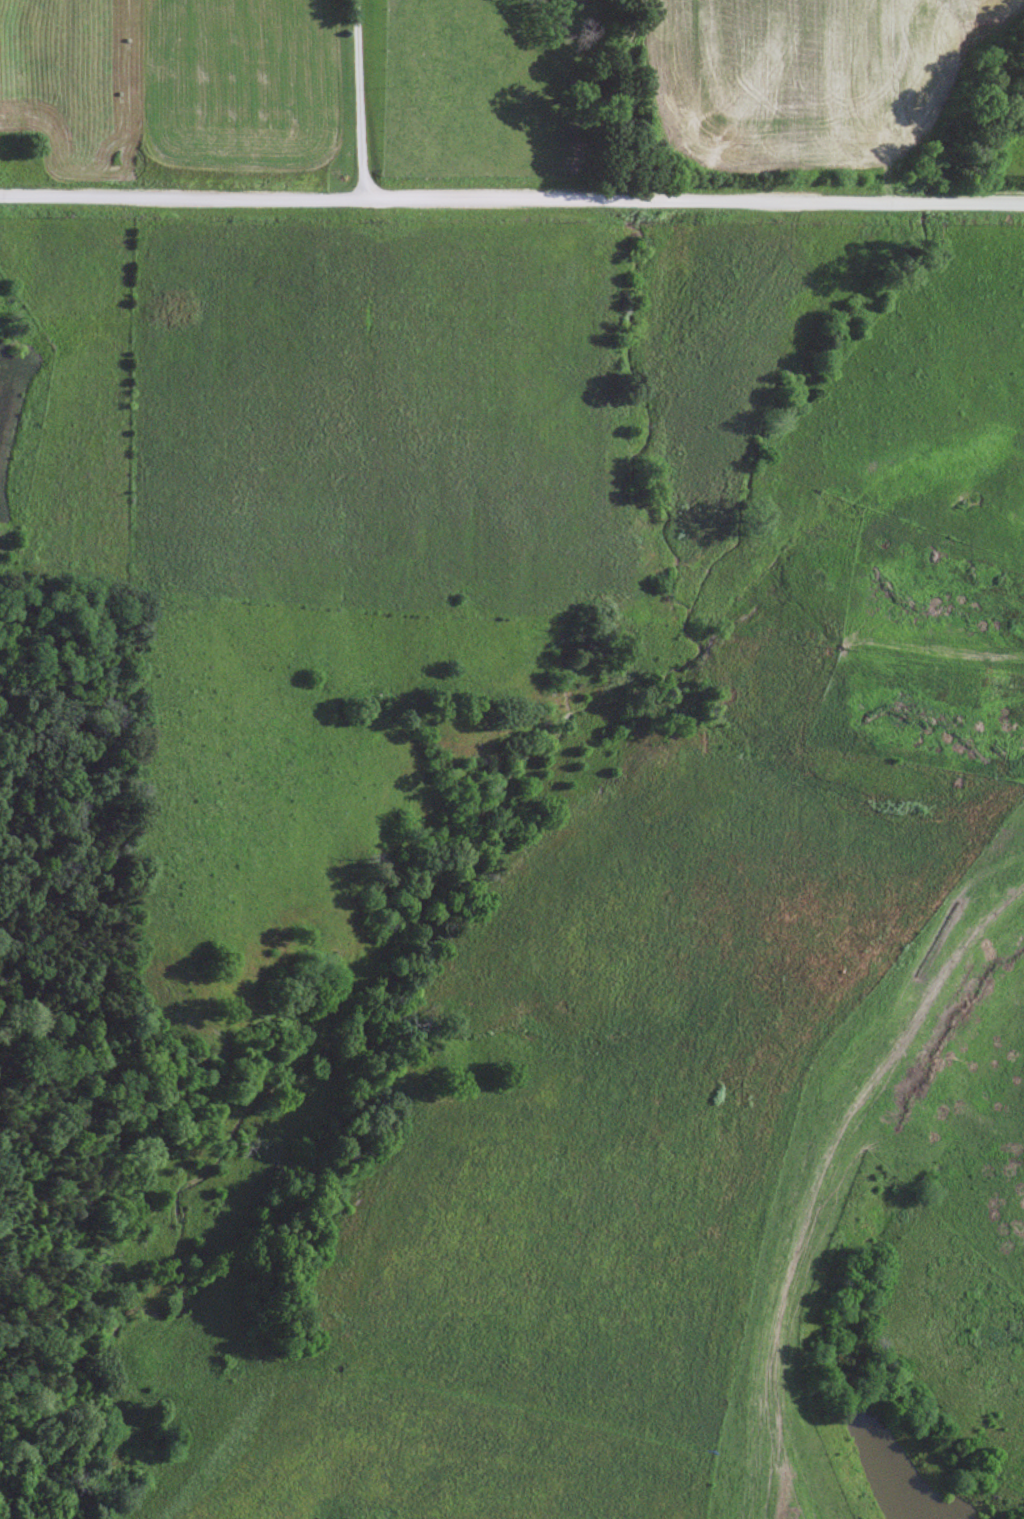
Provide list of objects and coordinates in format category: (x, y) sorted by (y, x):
road: (512, 194)

